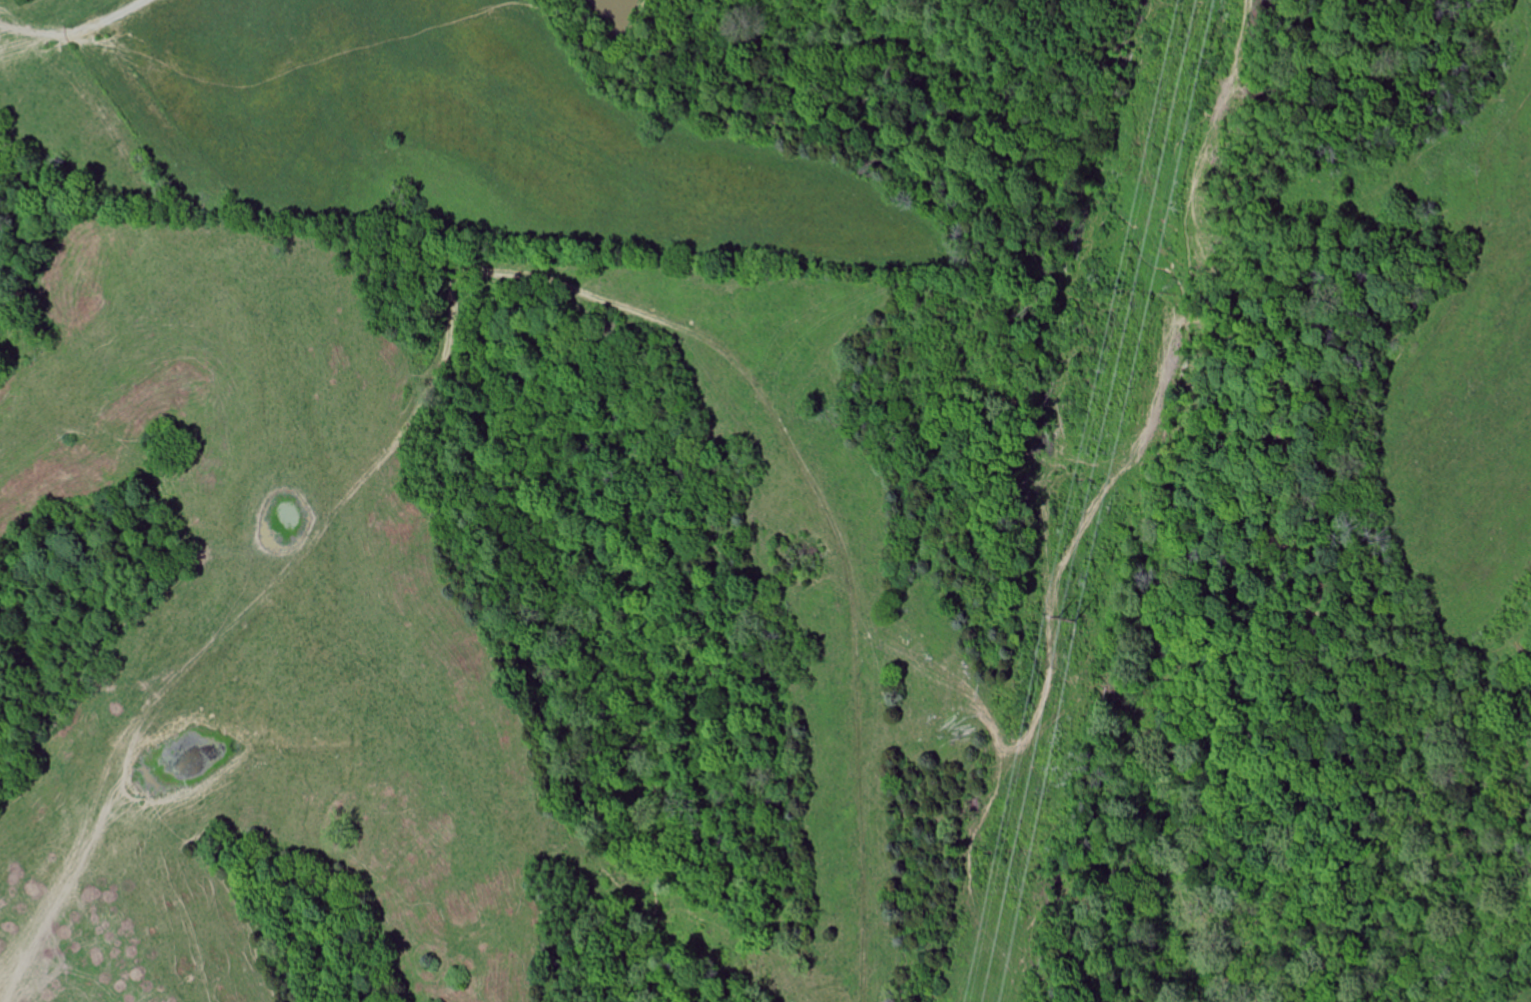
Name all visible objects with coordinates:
road: (73, 27)
power tower: (1066, 616)

